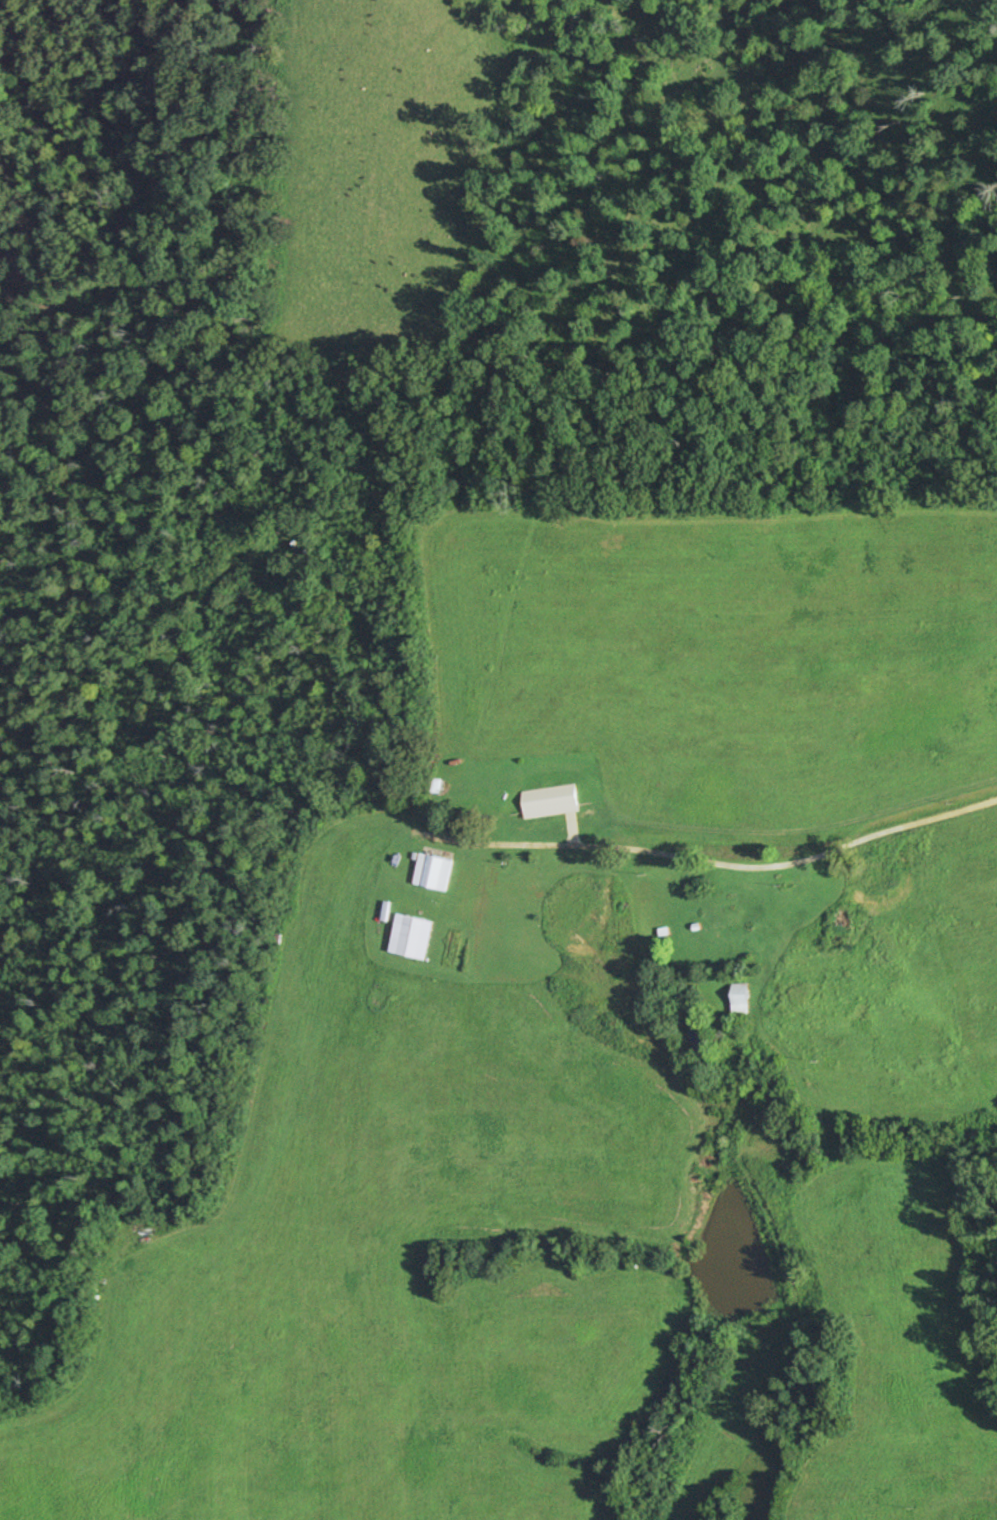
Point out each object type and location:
building: (553, 802)
road: (746, 861)
building: (438, 872)
building: (410, 936)
building: (745, 1001)

